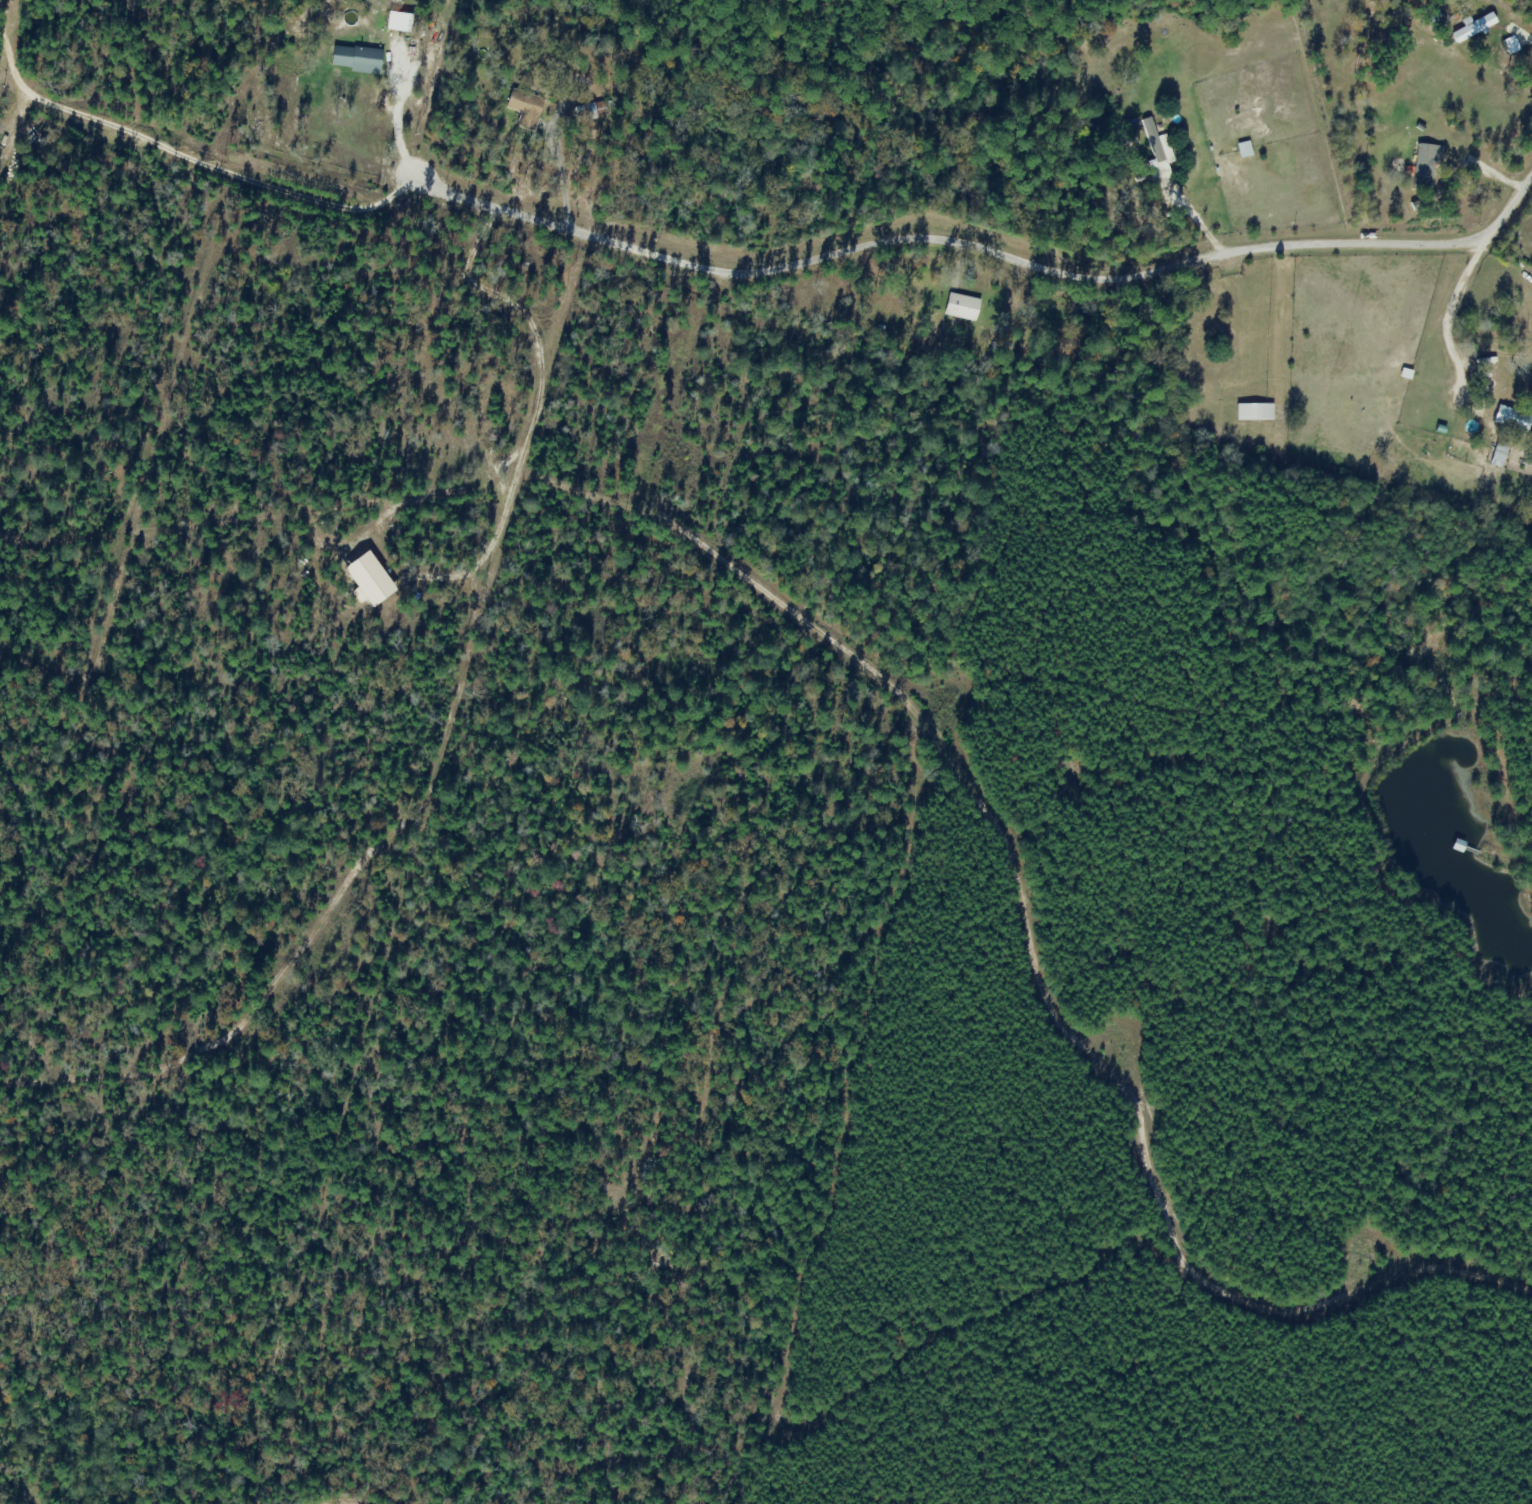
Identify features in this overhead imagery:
building: (387, 9)
building: (1464, 31)
building: (354, 57)
building: (524, 106)
building: (587, 110)
building: (1157, 152)
road: (190, 157)
building: (1425, 164)
road: (989, 253)
building: (961, 306)
road: (1462, 316)
building: (1253, 411)
building: (1503, 420)
building: (1498, 453)

